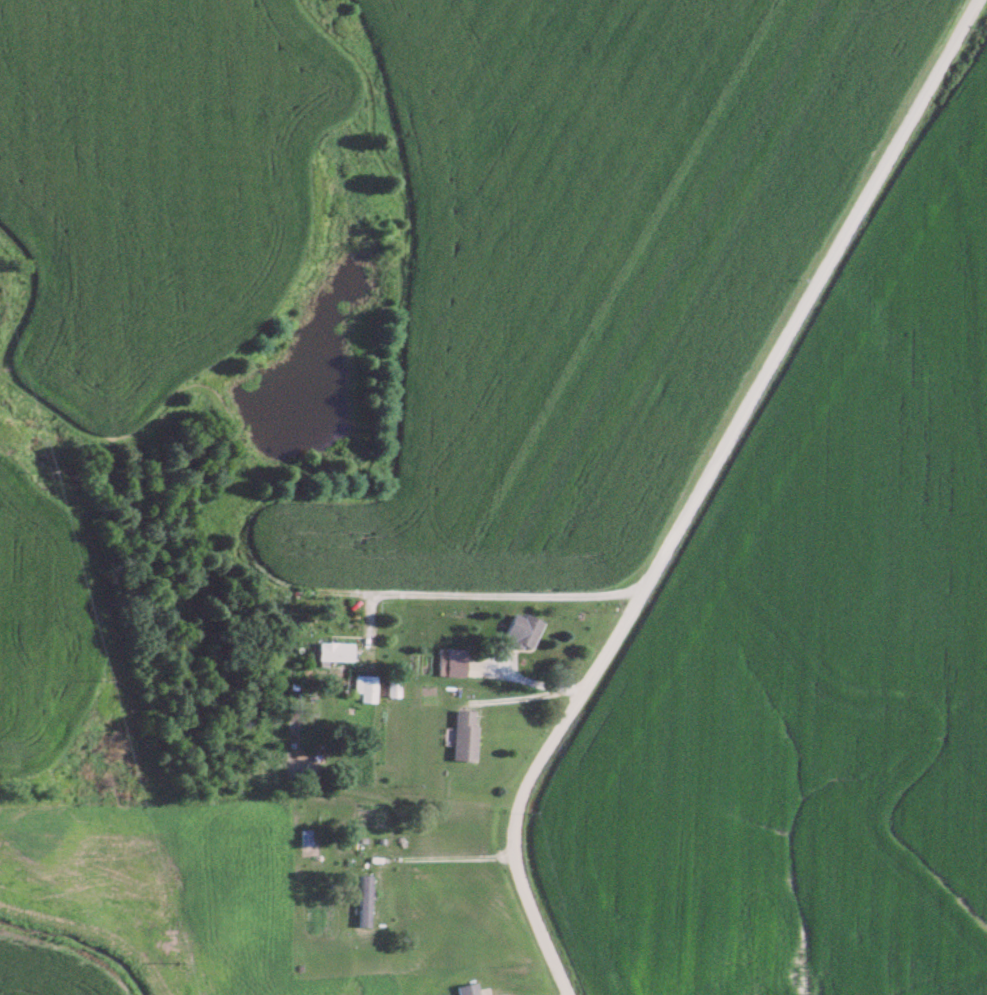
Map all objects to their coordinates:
road: (699, 492)
building: (521, 630)
building: (332, 651)
building: (449, 658)
building: (391, 686)
building: (363, 687)
building: (462, 736)
building: (363, 900)
building: (468, 989)

